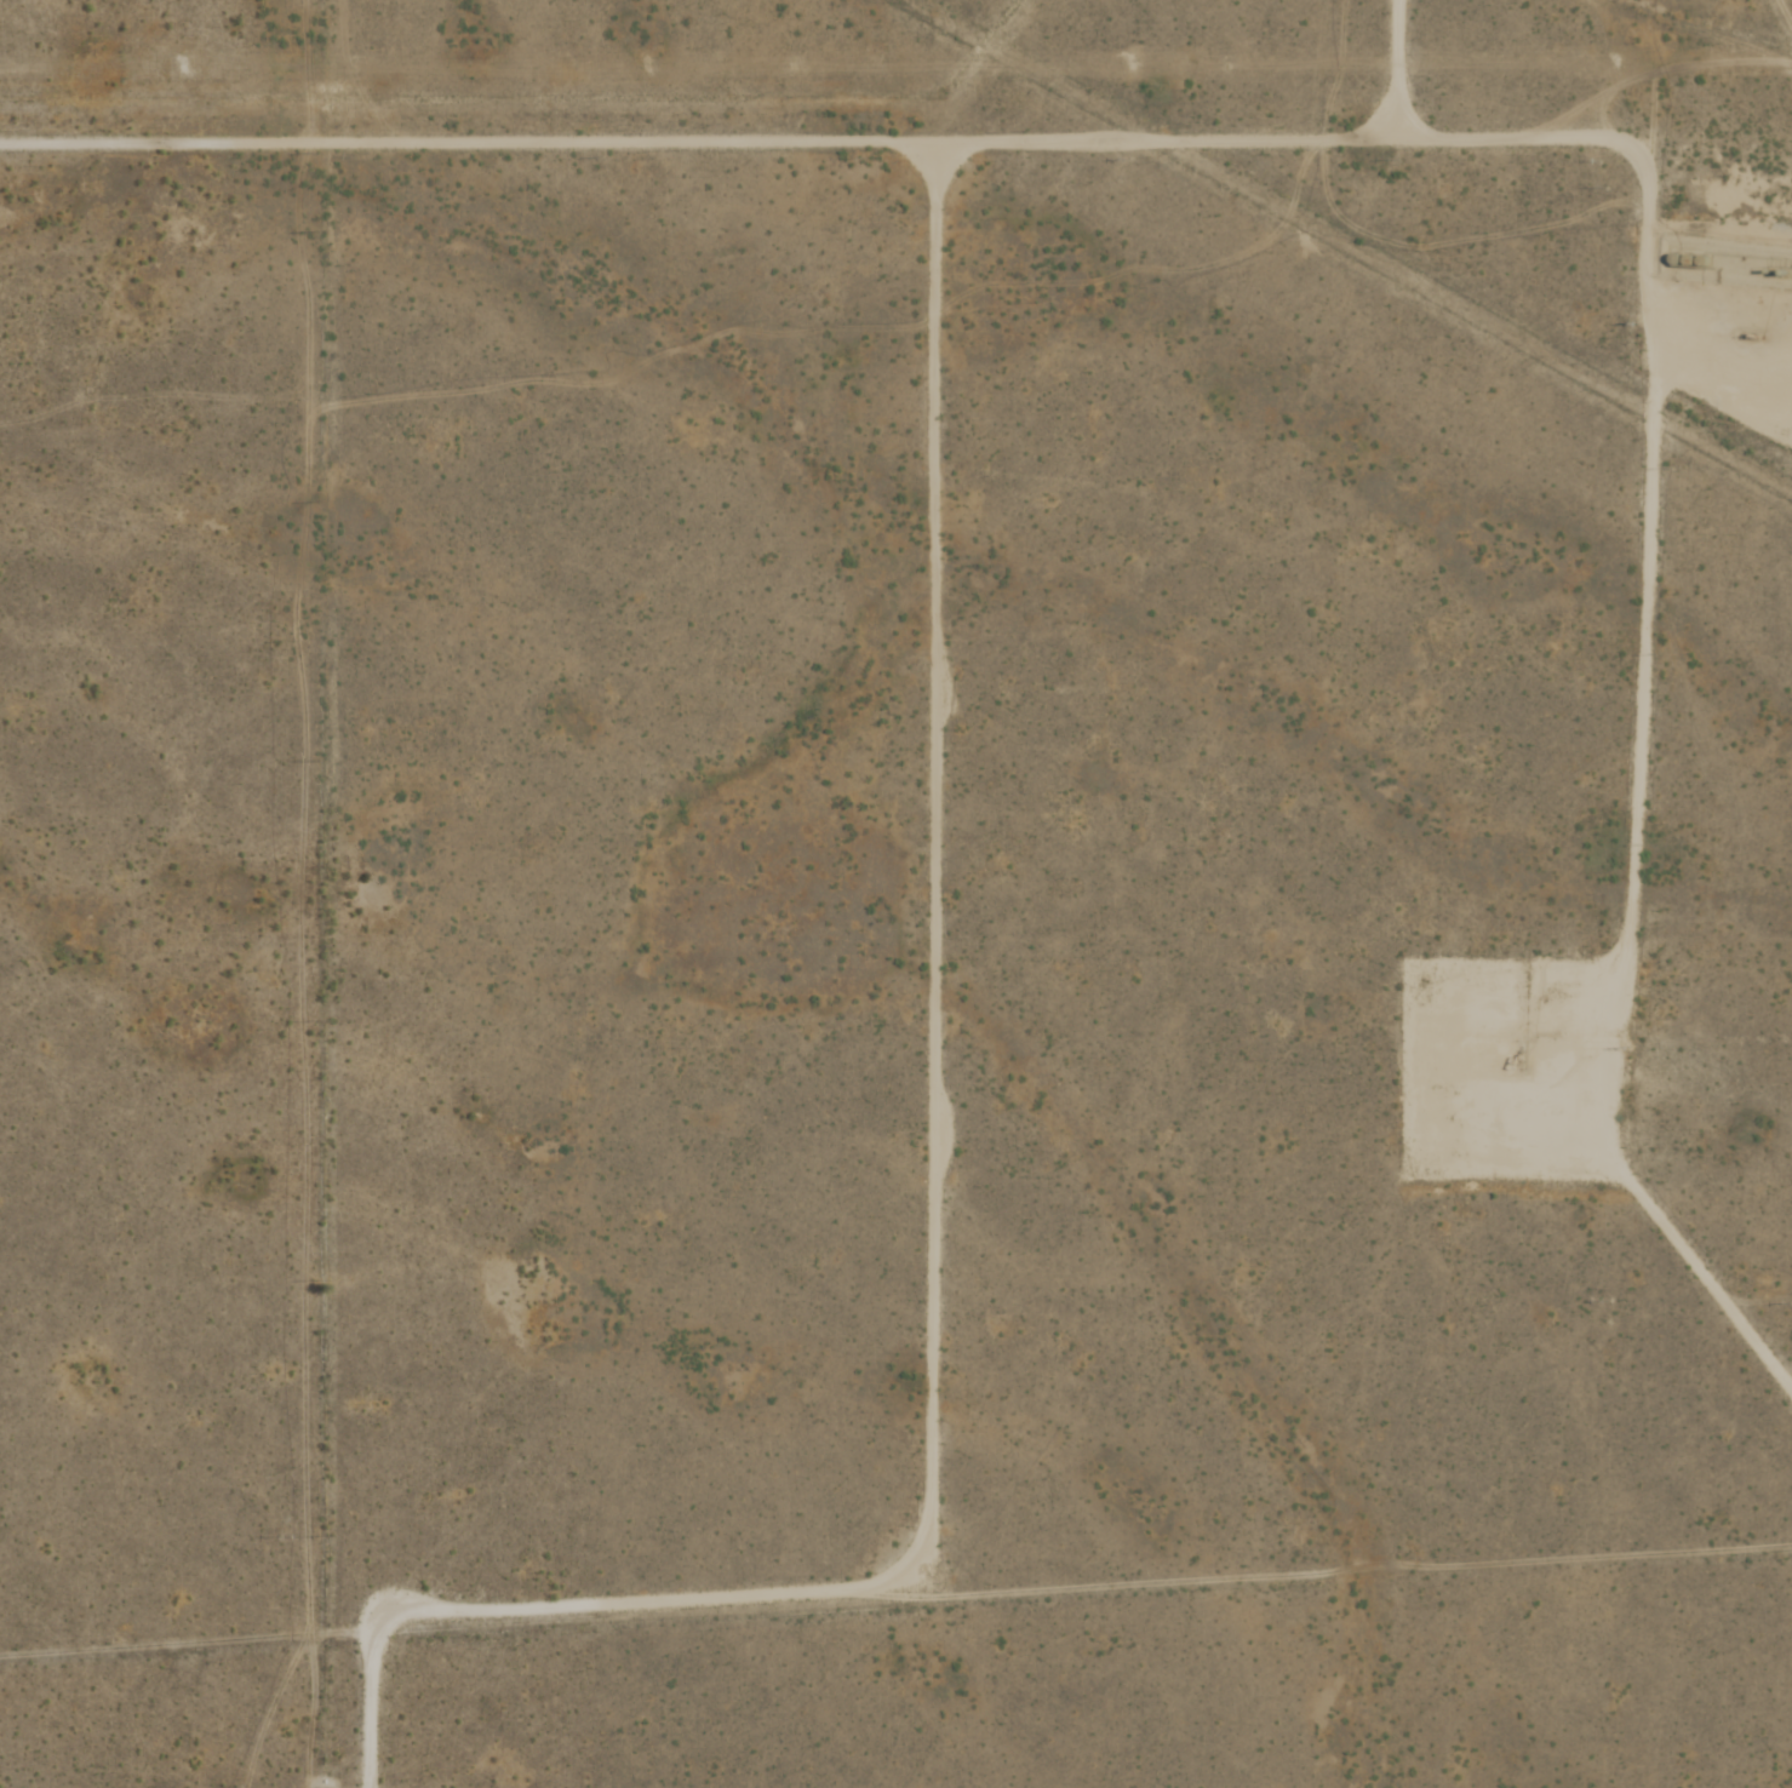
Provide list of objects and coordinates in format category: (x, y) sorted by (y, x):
power tower: (635, 62)
power tower: (1619, 62)
power tower: (178, 64)
power tower: (1129, 64)
road: (206, 864)

